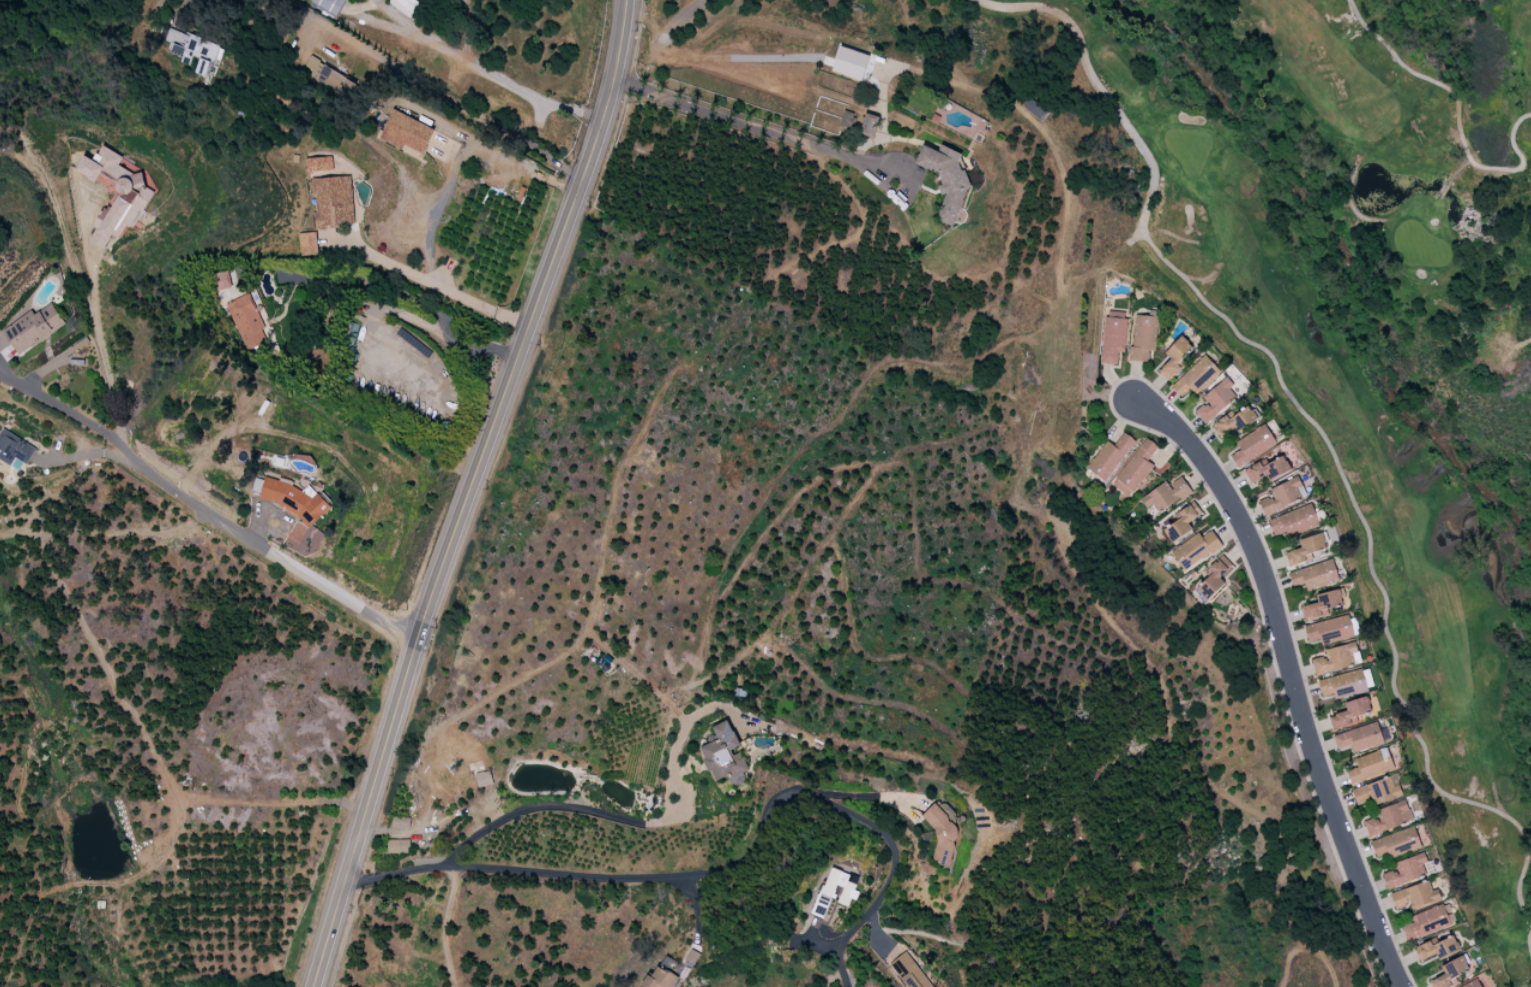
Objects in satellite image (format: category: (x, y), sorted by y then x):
road: (184, 3)
building: (330, 5)
road: (443, 48)
building: (193, 50)
building: (851, 62)
road: (607, 70)
building: (329, 78)
road: (430, 91)
building: (847, 120)
building: (869, 124)
building: (406, 133)
road: (792, 137)
building: (946, 179)
building: (330, 194)
building: (130, 203)
building: (307, 243)
road: (440, 286)
park: (1346, 314)
building: (246, 321)
building: (34, 328)
building: (1143, 336)
building: (1113, 338)
road: (102, 341)
building: (1194, 377)
building: (1215, 400)
building: (1233, 422)
building: (1253, 445)
building: (14, 448)
road: (88, 453)
building: (1111, 455)
building: (1135, 468)
building: (1267, 469)
road: (474, 476)
building: (1166, 494)
building: (1282, 495)
building: (296, 500)
road: (204, 510)
building: (1293, 521)
building: (1182, 522)
building: (1196, 548)
building: (1305, 549)
building: (1315, 575)
building: (1211, 580)
building: (1322, 604)
building: (1330, 630)
building: (1337, 658)
road: (1294, 677)
building: (1343, 683)
building: (1354, 712)
building: (1359, 737)
building: (1371, 765)
building: (484, 778)
building: (1378, 790)
road: (563, 805)
building: (1388, 817)
building: (400, 822)
building: (942, 835)
building: (1397, 843)
building: (398, 845)
road: (718, 865)
building: (1406, 870)
building: (836, 890)
building: (1415, 895)
road: (696, 909)
building: (1426, 922)
road: (444, 925)
building: (1437, 948)
road: (841, 965)
building: (1450, 973)
building: (661, 978)
building: (1472, 984)

